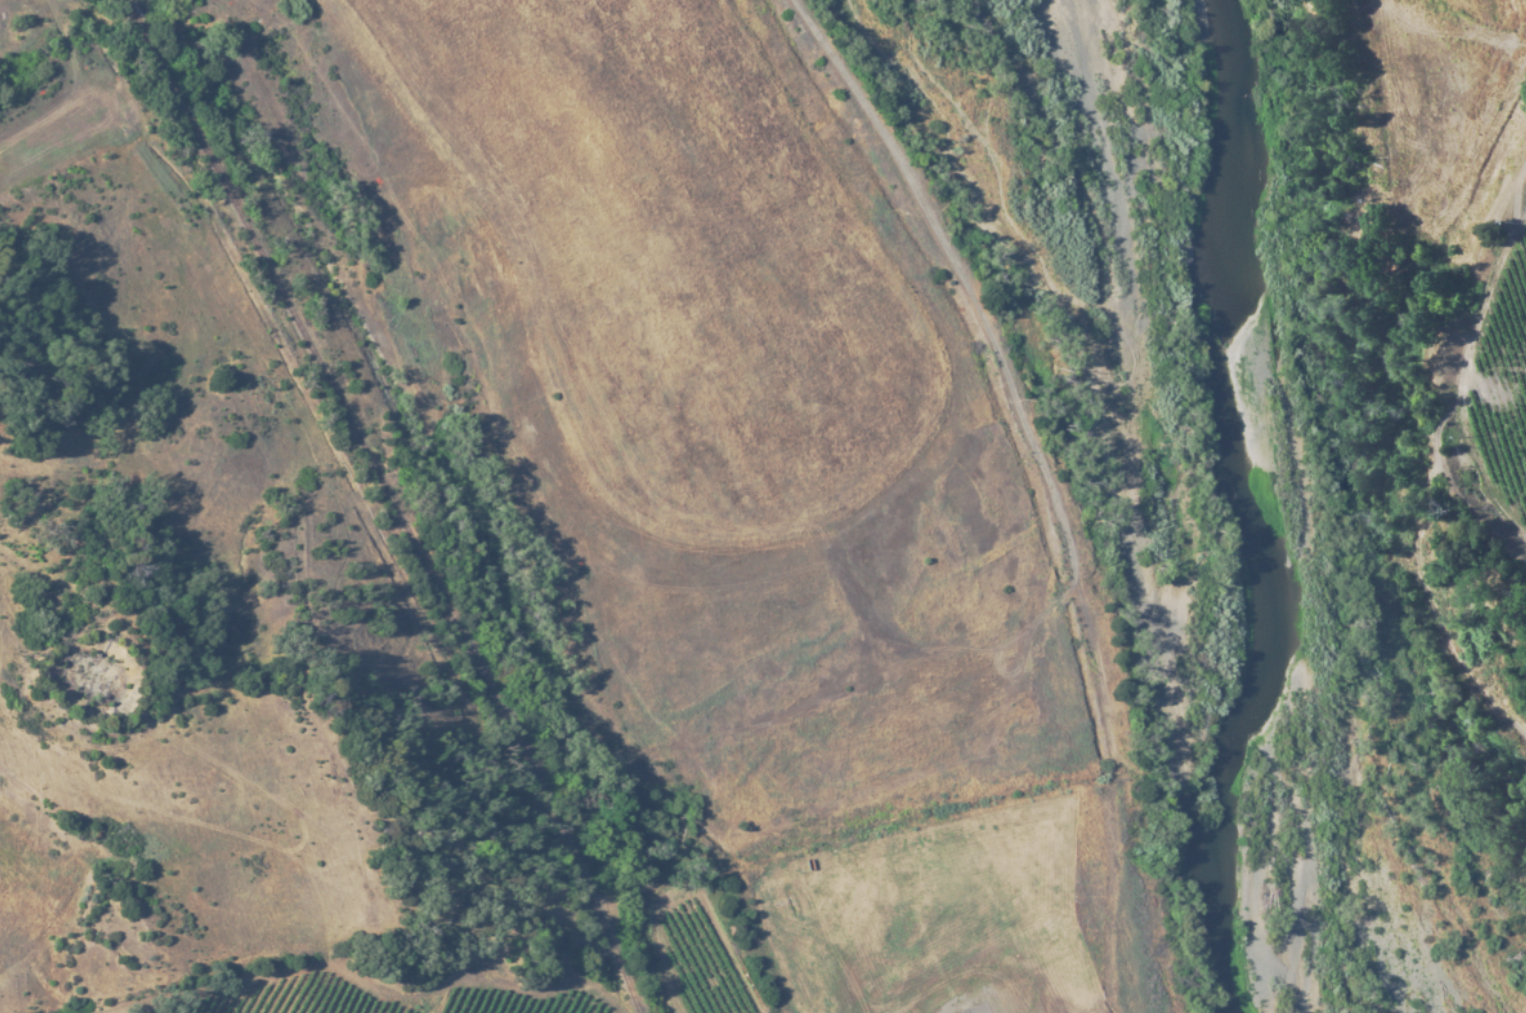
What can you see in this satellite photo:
railway: (309, 341)
river: (1282, 503)
road: (1102, 588)
road: (810, 810)
railway: (570, 846)
road: (1110, 878)
airport: (964, 907)
airport runway: (978, 1011)

